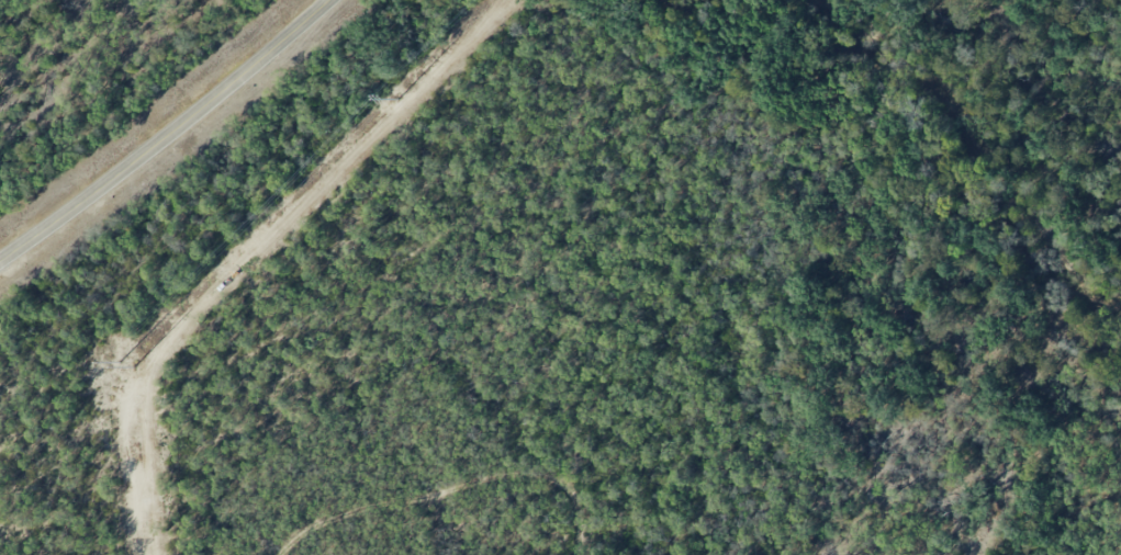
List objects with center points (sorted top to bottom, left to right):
power tower: (396, 99)
road: (168, 135)
river: (967, 149)
power tower: (128, 363)
road: (455, 508)

